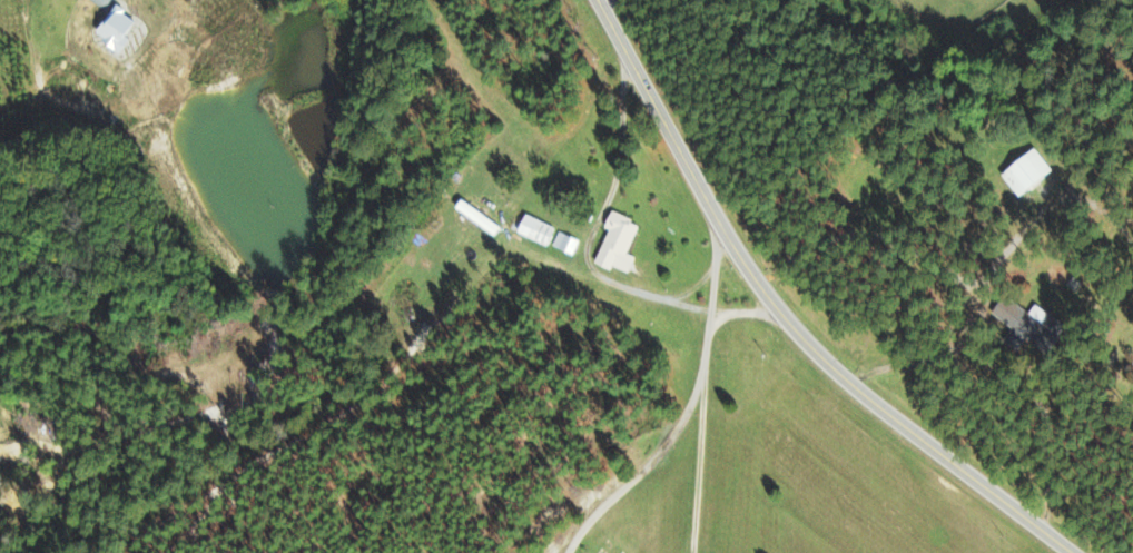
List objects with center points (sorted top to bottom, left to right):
road: (611, 6)
building: (111, 28)
building: (1023, 171)
building: (528, 227)
building: (564, 243)
building: (614, 243)
road: (708, 294)
road: (785, 319)
building: (1013, 324)
road: (700, 465)
road: (642, 470)

